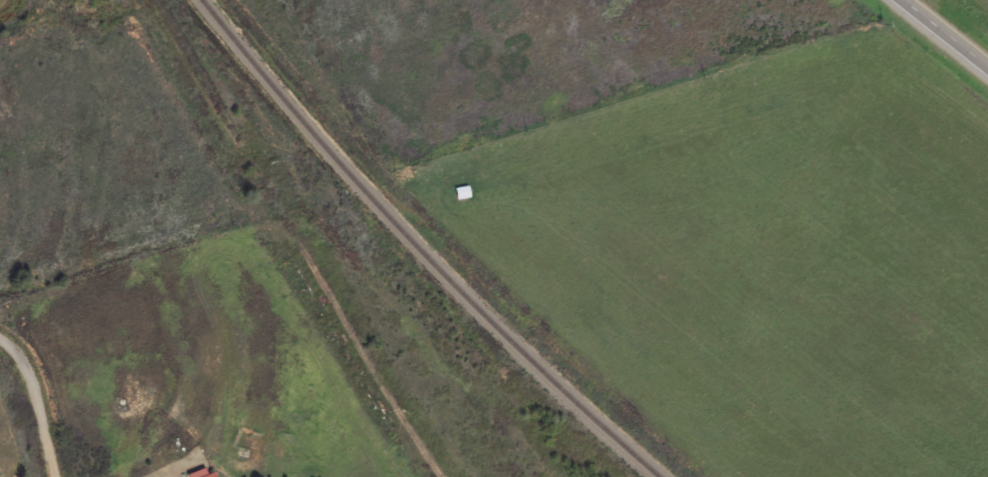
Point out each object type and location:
road: (946, 32)
railway: (418, 249)
road: (38, 400)
building: (202, 474)

